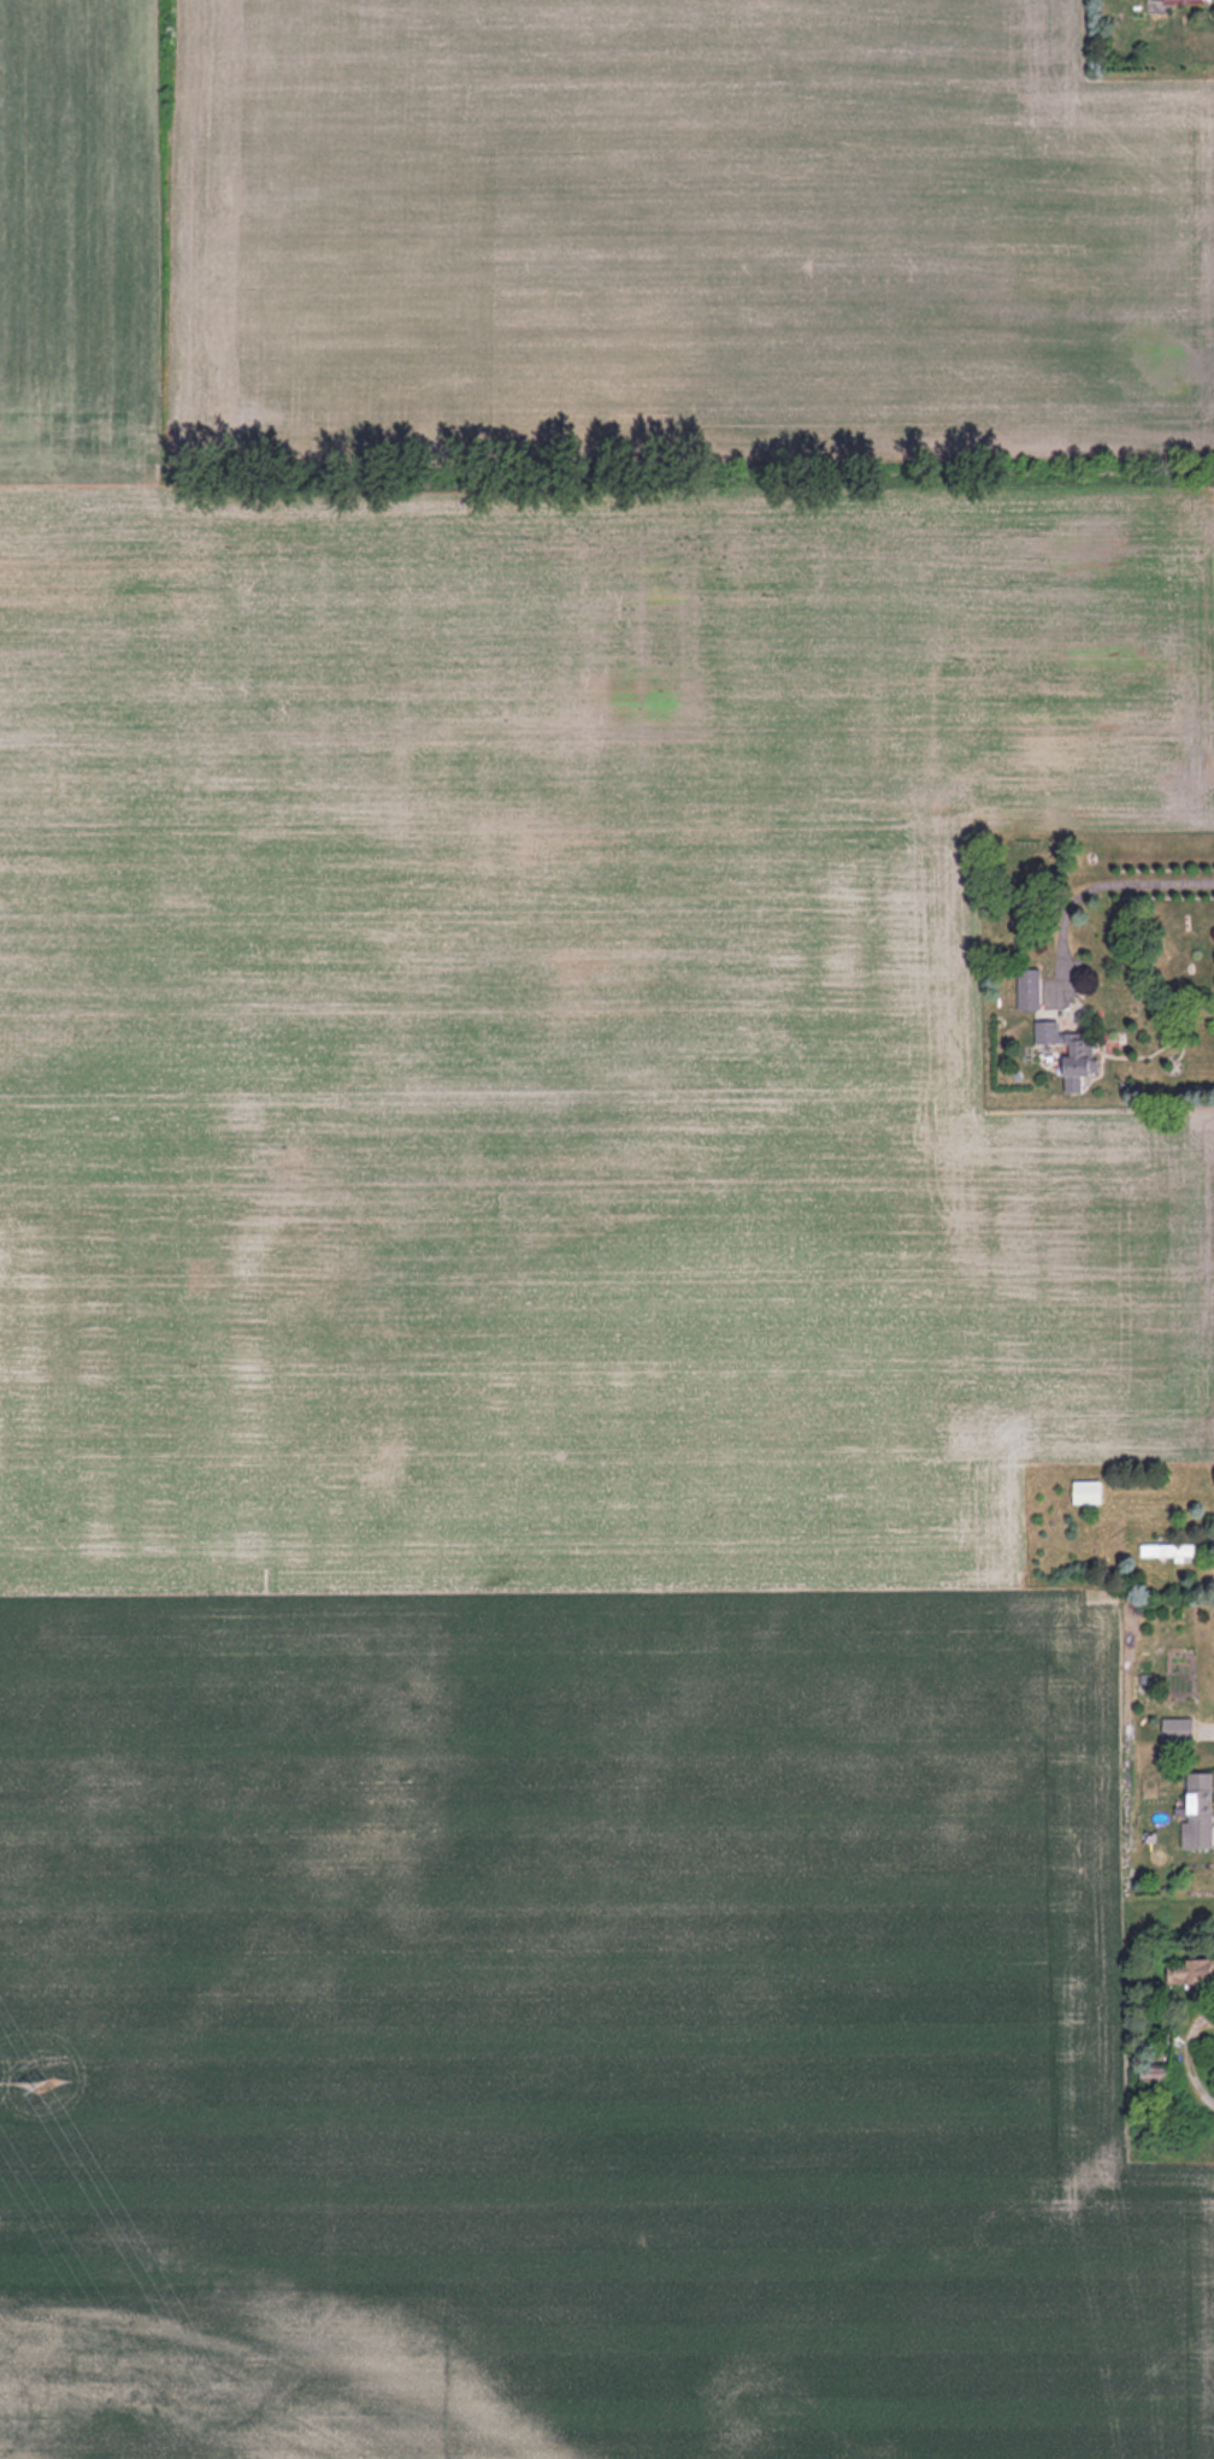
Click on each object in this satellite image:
building: (1179, 1)
building: (1026, 989)
building: (1065, 1048)
building: (1085, 1491)
building: (1166, 1551)
building: (1175, 1729)
building: (1195, 1810)
building: (1189, 1972)
power tower: (47, 2082)

